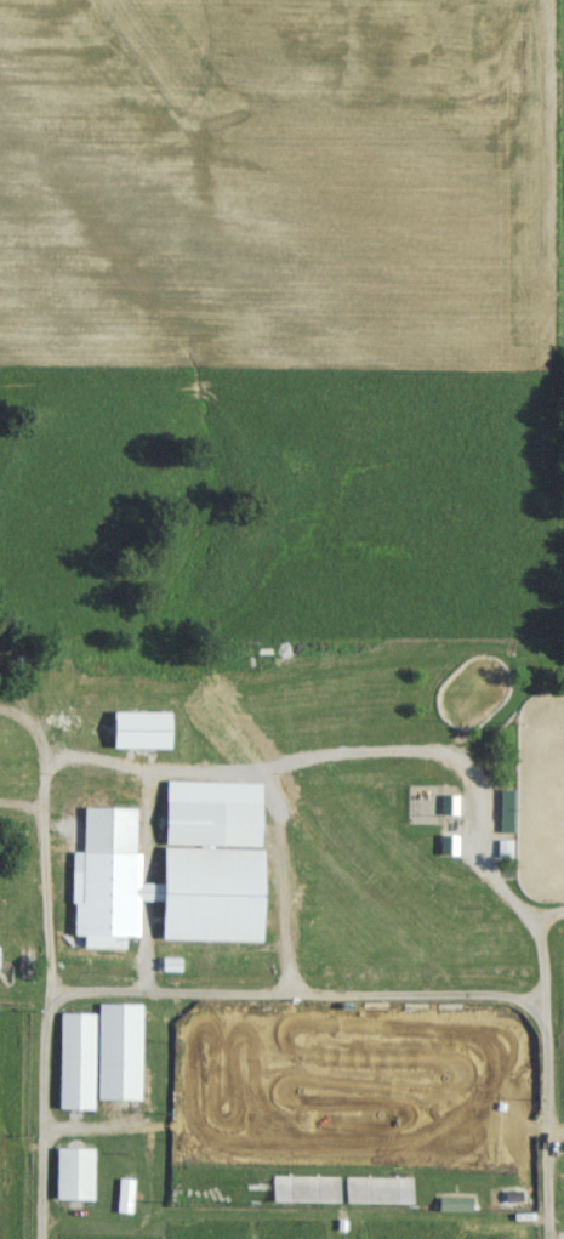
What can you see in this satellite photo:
building: (505, 858)
building: (173, 880)
road: (541, 973)
road: (284, 998)
building: (98, 1065)
building: (73, 1183)
building: (303, 1198)
building: (376, 1199)
building: (124, 1205)
building: (452, 1212)

